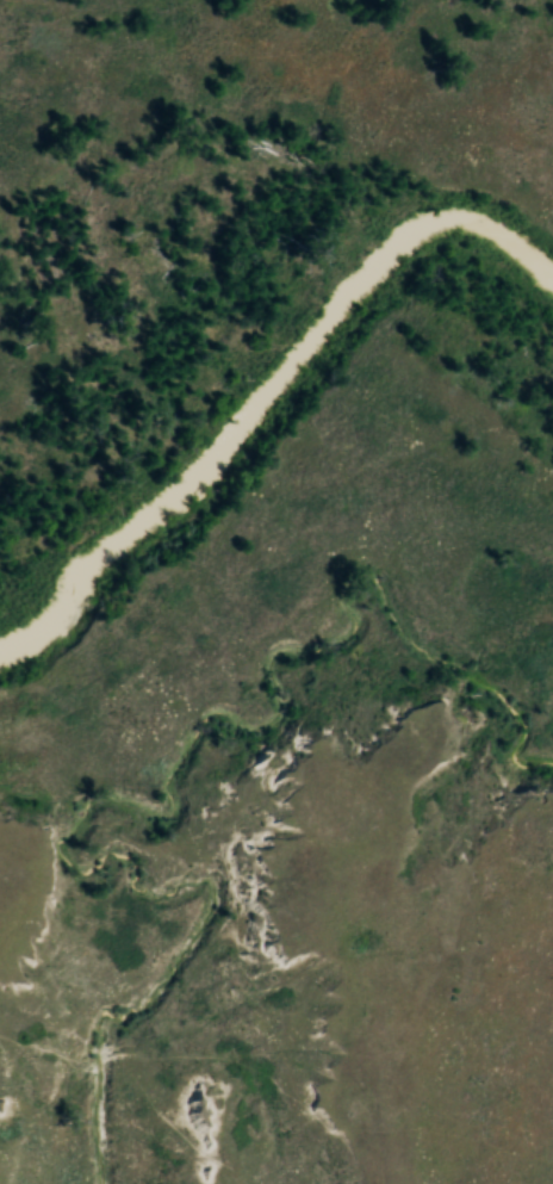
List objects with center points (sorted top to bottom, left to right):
river: (268, 392)

